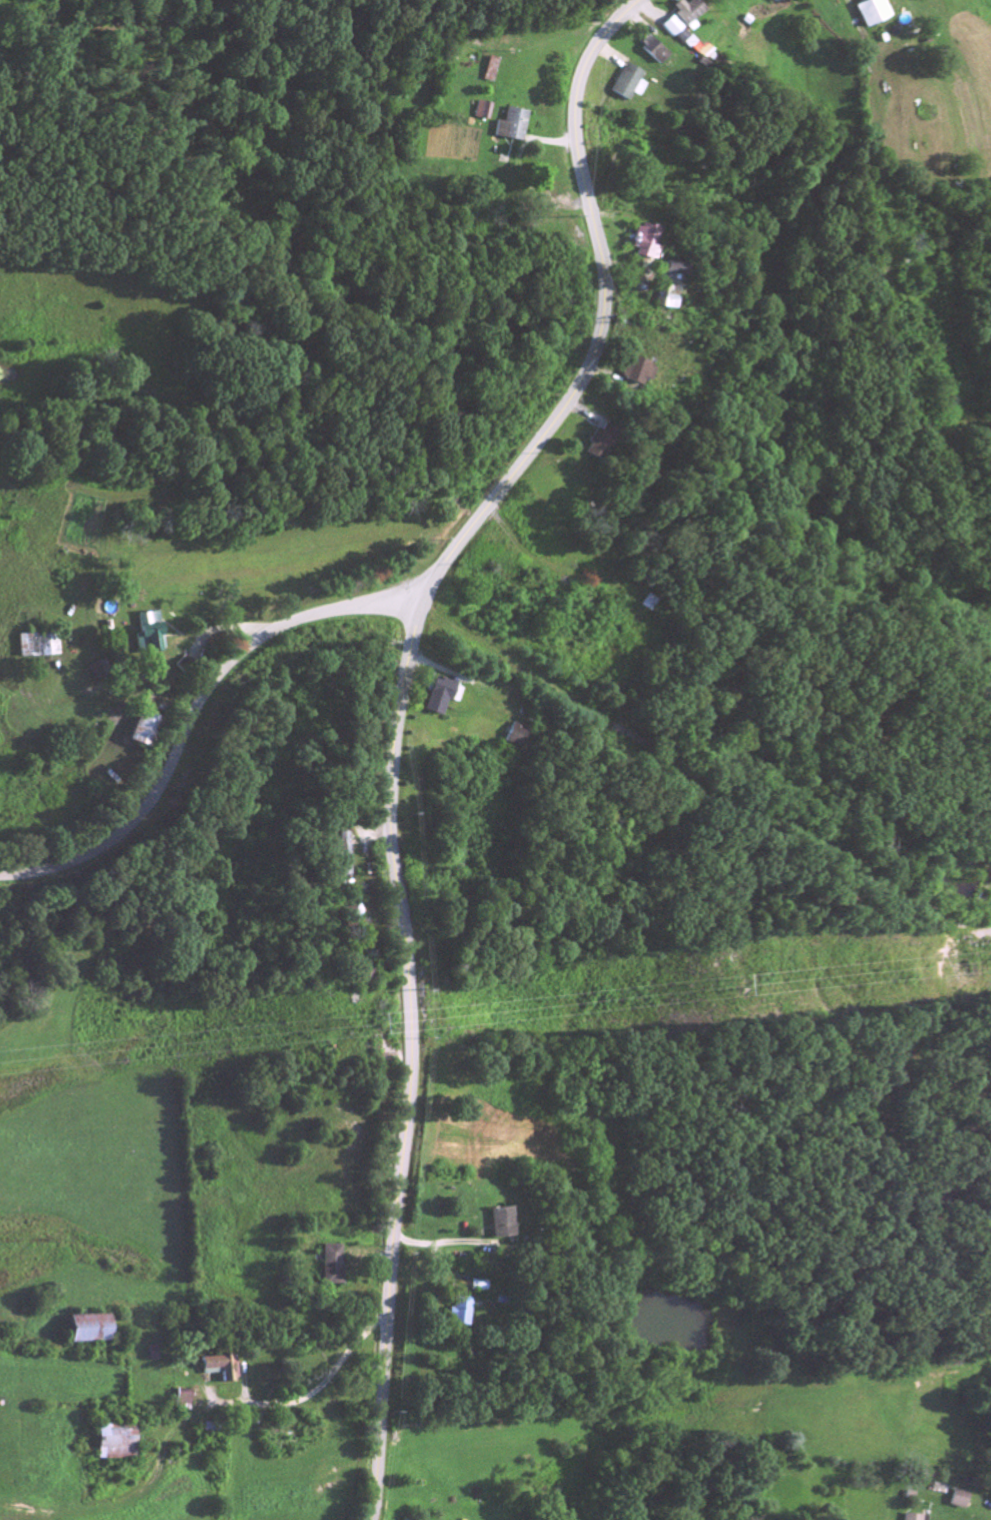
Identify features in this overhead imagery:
building: (872, 14)
building: (686, 15)
building: (669, 28)
building: (692, 47)
building: (652, 52)
building: (627, 85)
building: (483, 113)
building: (511, 127)
building: (641, 244)
building: (668, 270)
building: (662, 298)
building: (633, 372)
building: (598, 442)
building: (151, 634)
building: (39, 646)
building: (441, 697)
road: (193, 710)
road: (396, 720)
building: (142, 730)
building: (514, 737)
building: (341, 855)
power tower: (737, 987)
power tower: (371, 1020)
building: (499, 1225)
road: (441, 1243)
building: (333, 1267)
building: (477, 1287)
building: (461, 1311)
building: (89, 1331)
building: (220, 1369)
road: (312, 1395)
building: (182, 1399)
building: (114, 1444)
building: (958, 1501)
building: (913, 1518)

